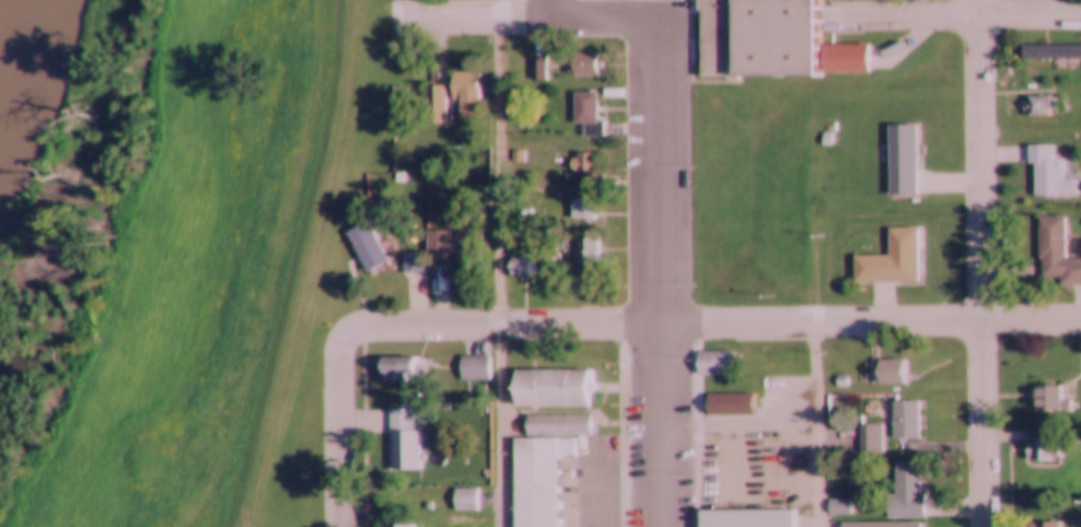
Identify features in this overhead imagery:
road: (550, 9)
road: (400, 10)
road: (1030, 13)
road: (908, 15)
road: (520, 19)
building: (757, 38)
building: (1051, 54)
building: (844, 59)
building: (584, 66)
building: (538, 70)
building: (465, 95)
building: (425, 104)
building: (1037, 106)
building: (586, 115)
building: (314, 160)
building: (903, 161)
building: (582, 167)
road: (500, 172)
building: (1050, 174)
building: (583, 210)
building: (365, 246)
building: (445, 247)
building: (588, 250)
building: (1056, 255)
building: (892, 259)
road: (981, 262)
building: (522, 266)
road: (665, 273)
road: (873, 320)
road: (503, 325)
building: (213, 360)
building: (271, 364)
building: (719, 365)
building: (395, 366)
building: (888, 373)
building: (841, 380)
building: (551, 387)
building: (1048, 397)
building: (729, 406)
building: (905, 420)
building: (559, 425)
road: (340, 426)
building: (872, 437)
building: (403, 441)
building: (1042, 446)
building: (535, 482)
building: (907, 493)
building: (466, 500)
building: (266, 503)
building: (839, 506)
building: (752, 518)
building: (104, 520)
building: (1044, 524)
building: (883, 525)
building: (399, 526)

